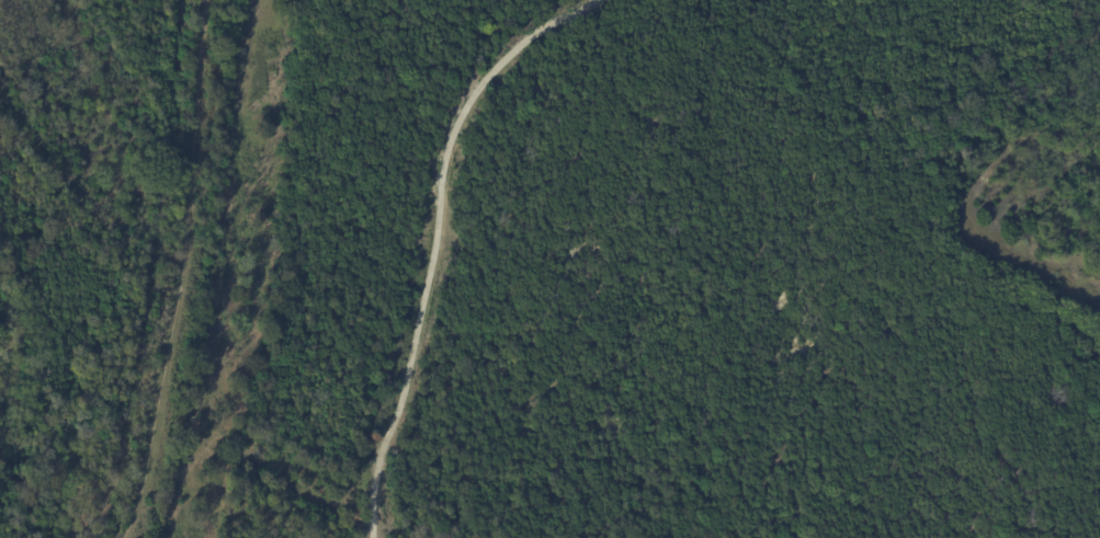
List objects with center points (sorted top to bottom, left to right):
road: (439, 238)

